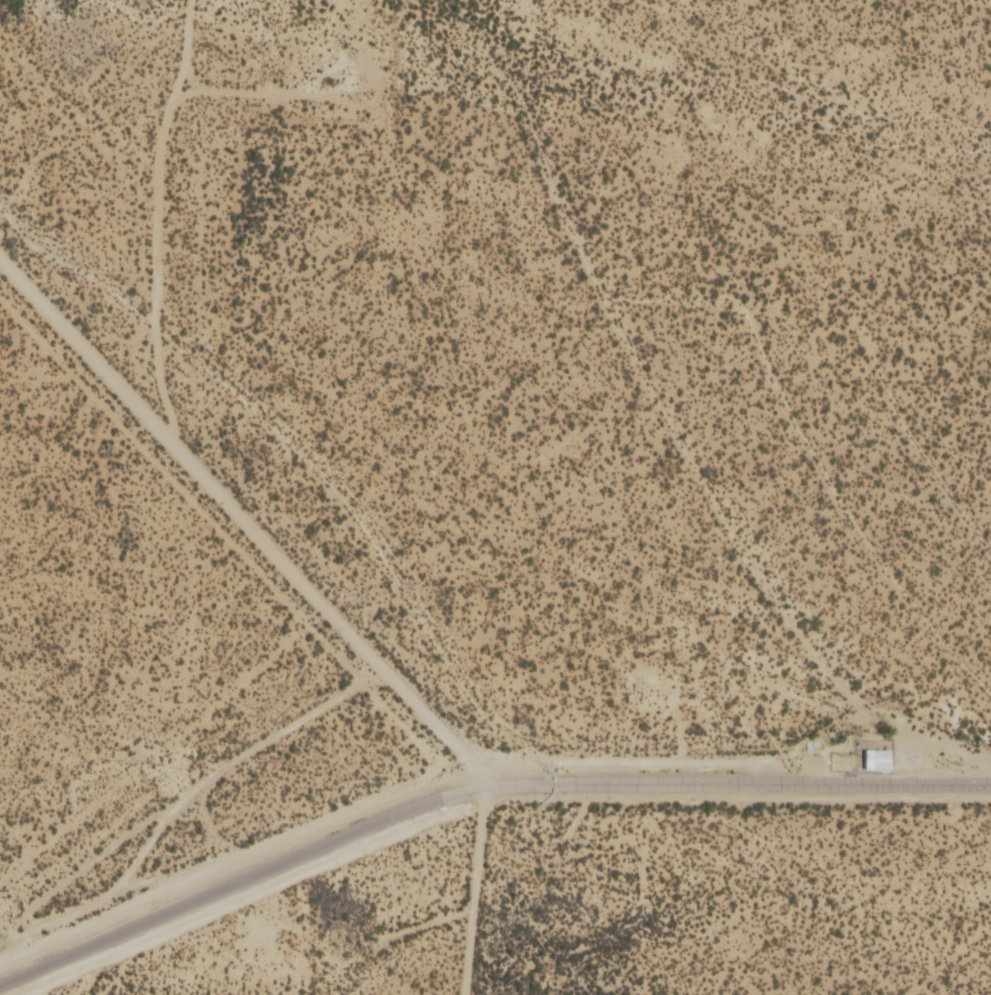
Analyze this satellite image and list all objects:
road: (410, 714)
building: (875, 762)

